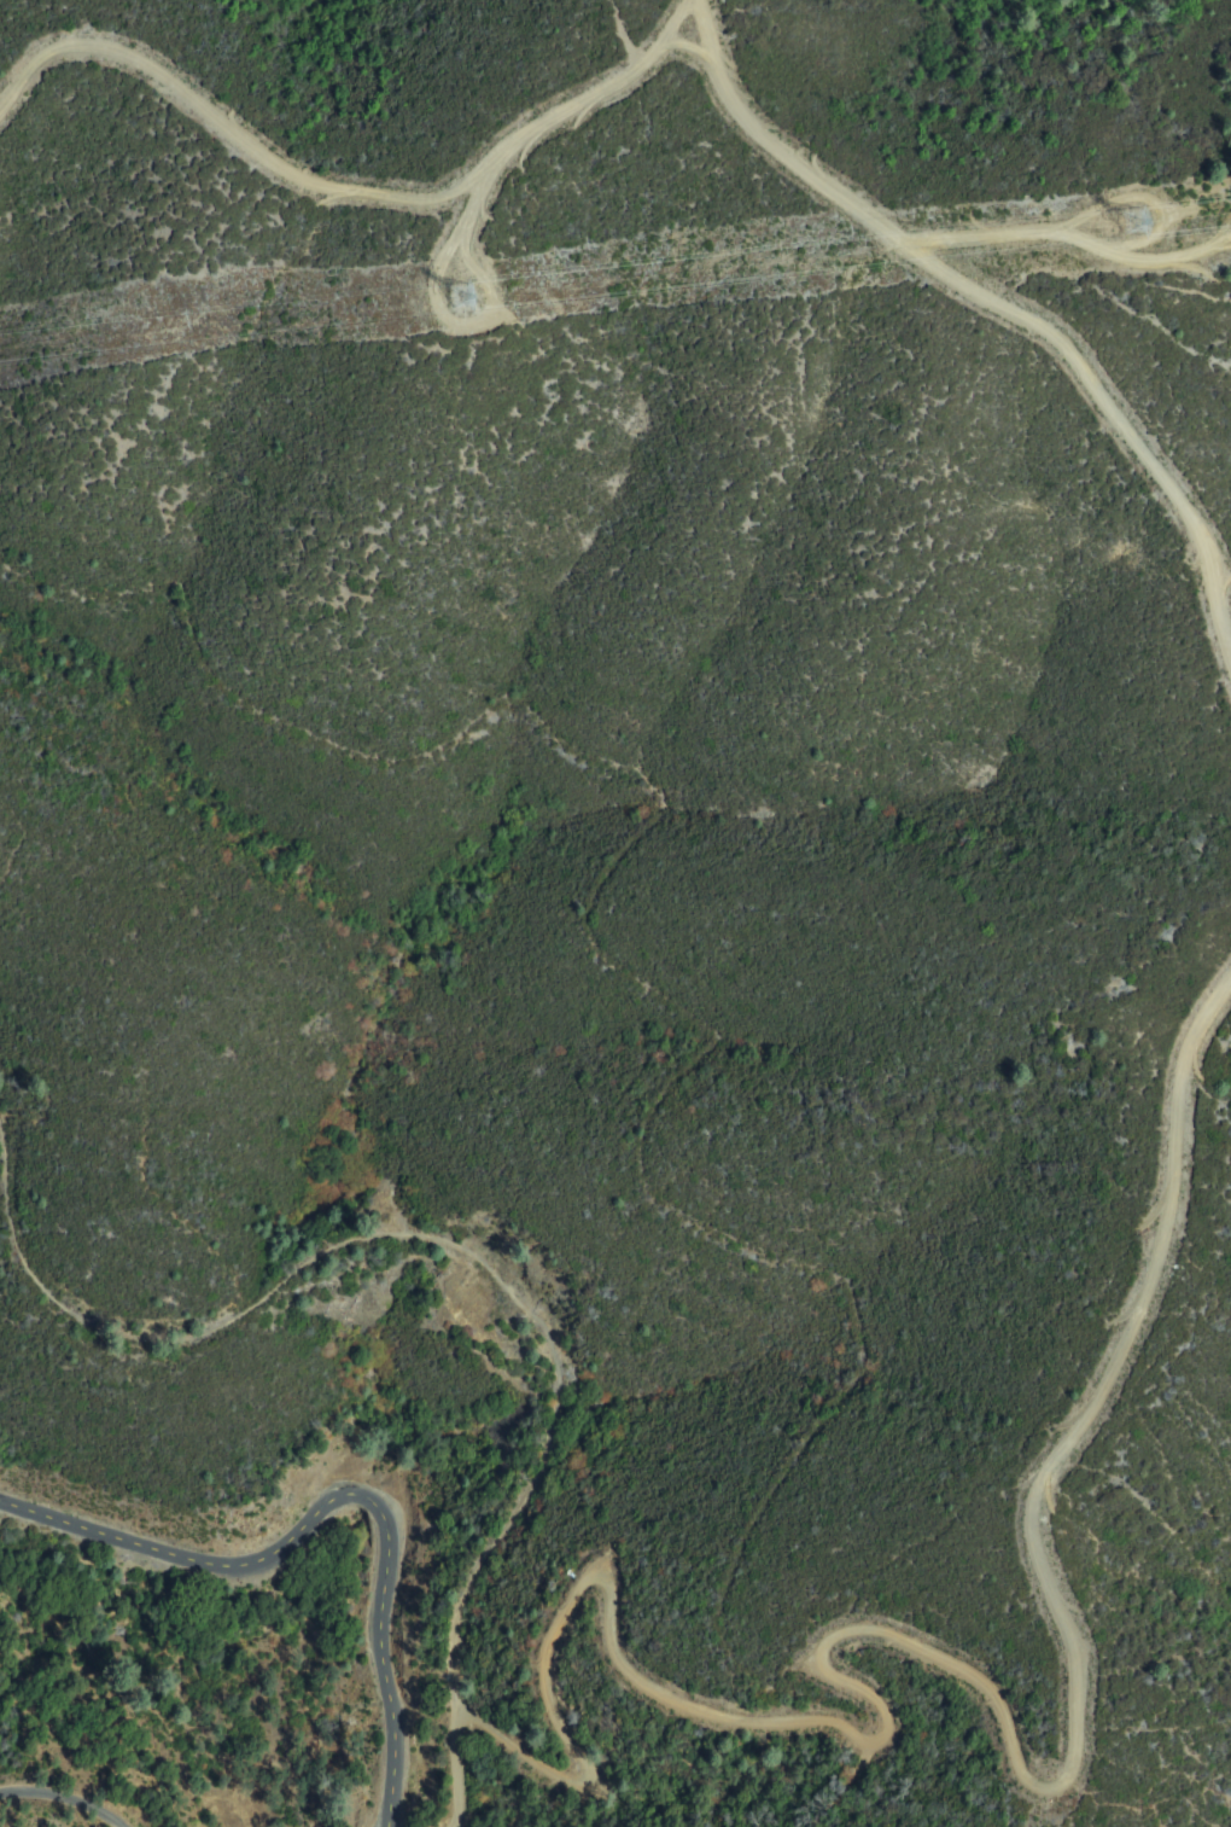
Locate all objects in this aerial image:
road: (675, 27)
road: (342, 194)
power tower: (1122, 223)
road: (985, 293)
power tower: (462, 297)
road: (414, 1237)
road: (337, 1502)
road: (956, 1677)
road: (449, 1771)
road: (58, 1800)

